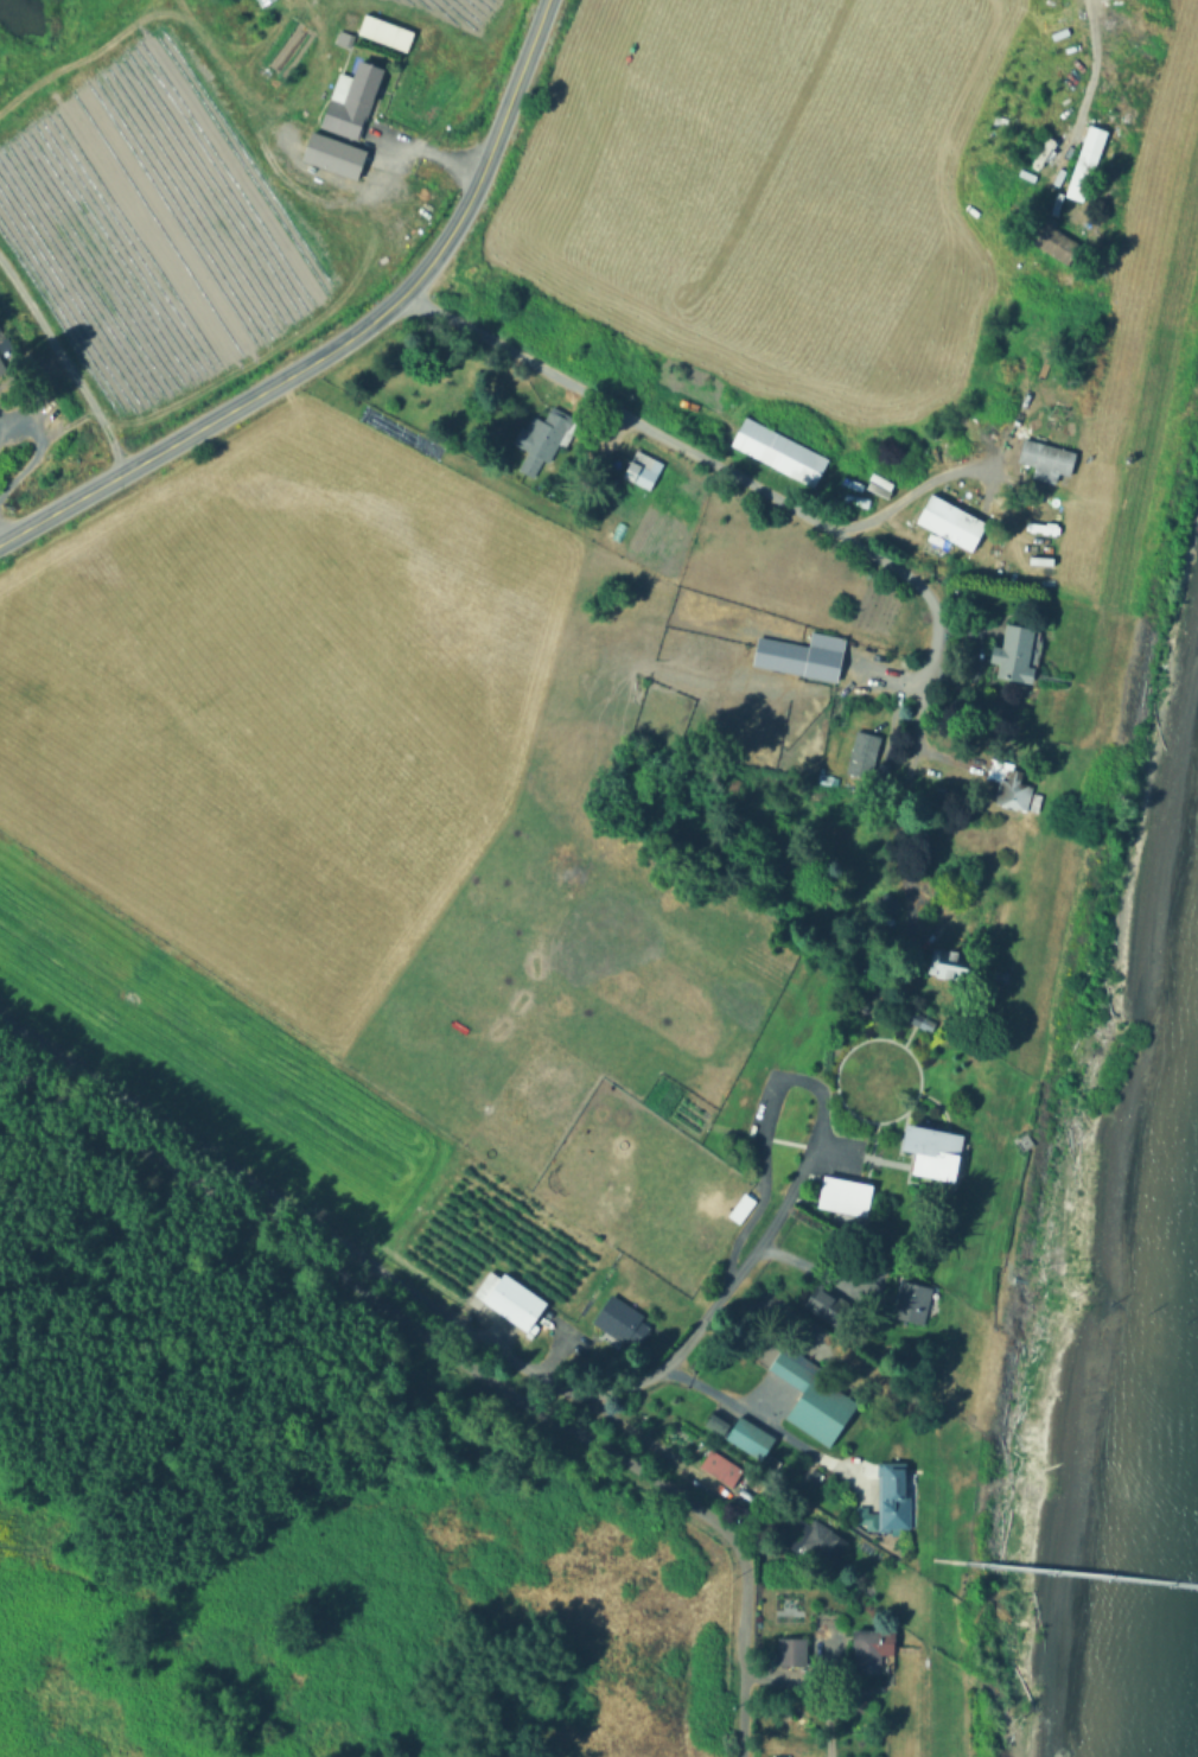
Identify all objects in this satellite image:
building: (388, 30)
building: (345, 36)
road: (521, 69)
road: (1087, 79)
building: (356, 97)
road: (435, 151)
building: (337, 153)
building: (1084, 173)
crop: (151, 222)
building: (1053, 237)
road: (431, 259)
building: (2, 364)
road: (63, 364)
building: (544, 438)
road: (164, 447)
building: (782, 447)
road: (34, 450)
building: (1050, 458)
building: (645, 470)
road: (919, 485)
road: (803, 515)
building: (954, 517)
building: (797, 652)
building: (1018, 652)
building: (862, 745)
building: (996, 771)
building: (1017, 794)
crop: (367, 849)
building: (952, 962)
building: (922, 1021)
building: (936, 1151)
road: (801, 1171)
building: (849, 1195)
building: (739, 1207)
road: (280, 1209)
road: (821, 1271)
building: (512, 1300)
building: (821, 1303)
building: (913, 1303)
building: (624, 1323)
road: (461, 1357)
building: (816, 1402)
road: (766, 1421)
building: (743, 1434)
road: (643, 1437)
building: (722, 1468)
building: (816, 1475)
building: (898, 1507)
building: (867, 1517)
building: (818, 1542)
pier: (1068, 1570)
building: (795, 1651)
building: (869, 1654)

